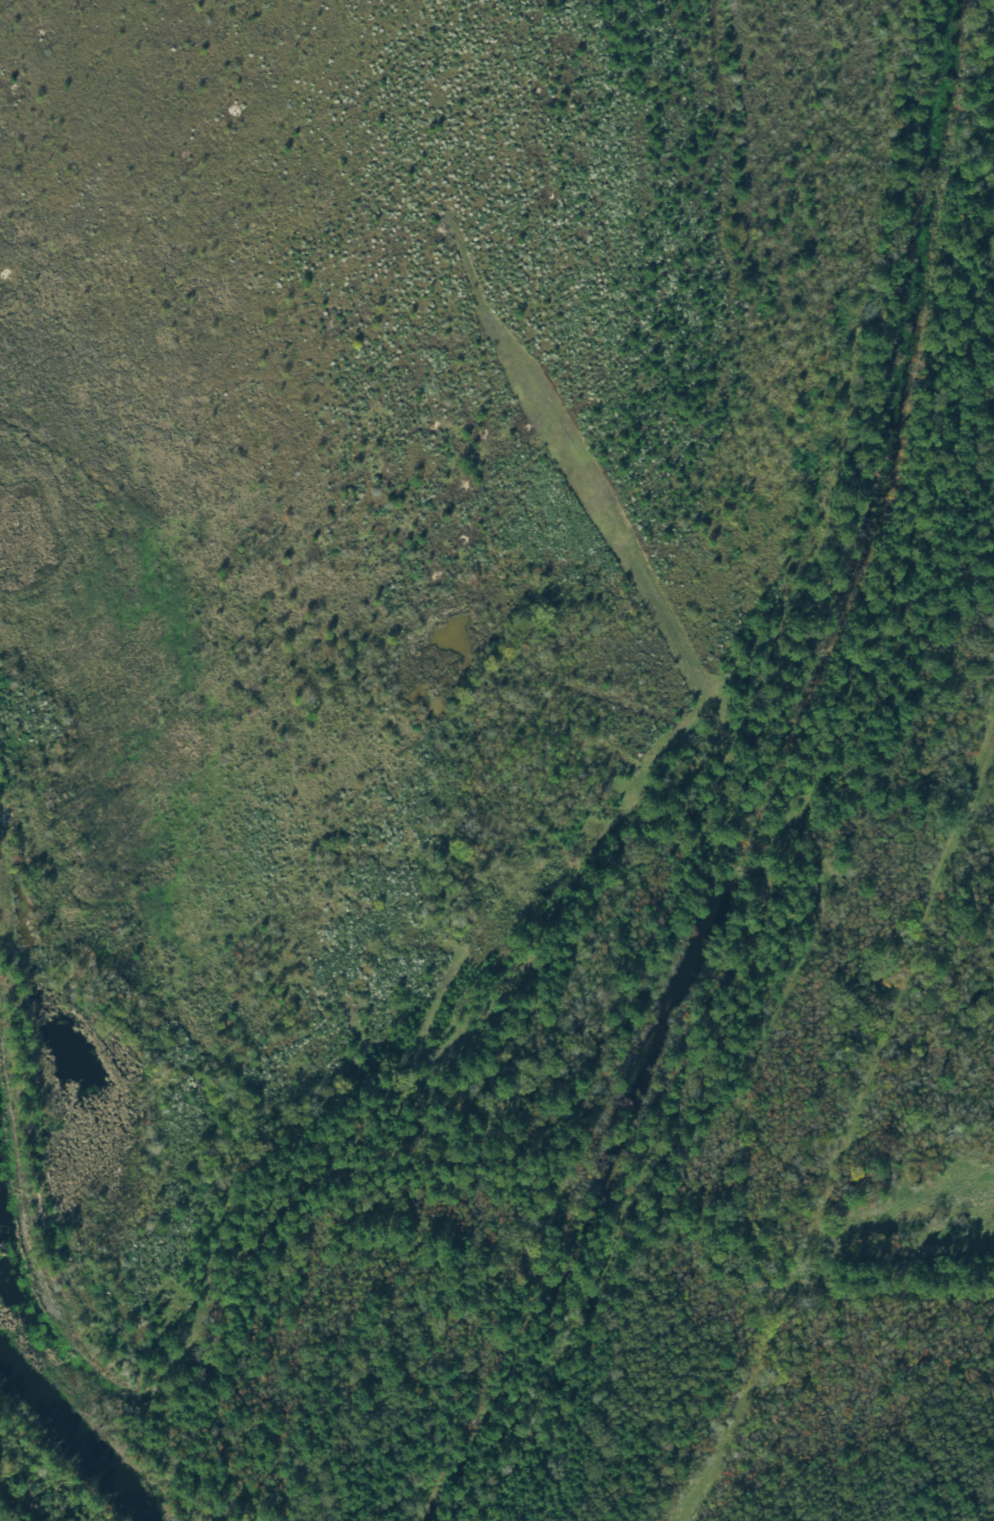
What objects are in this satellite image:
road: (846, 1122)

